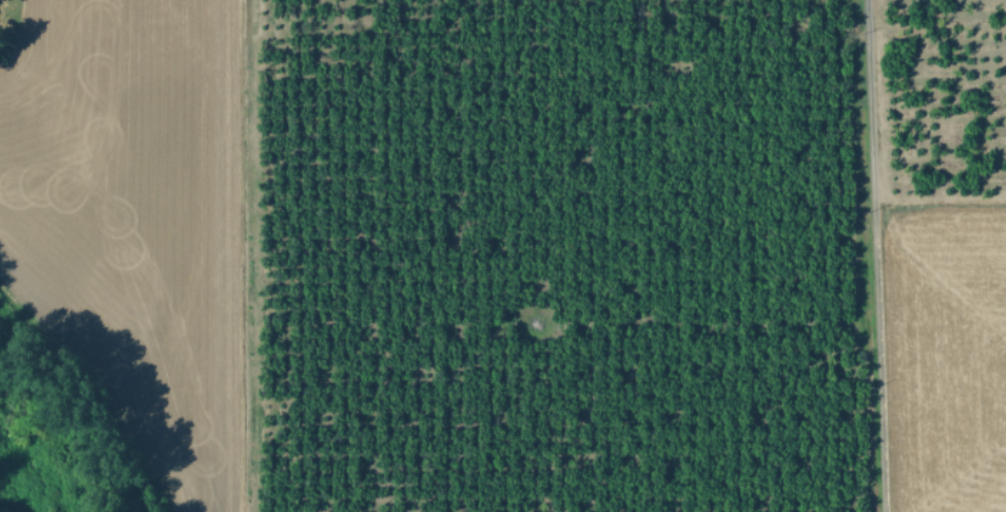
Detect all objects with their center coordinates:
road: (938, 204)
road: (872, 255)
road: (250, 256)

